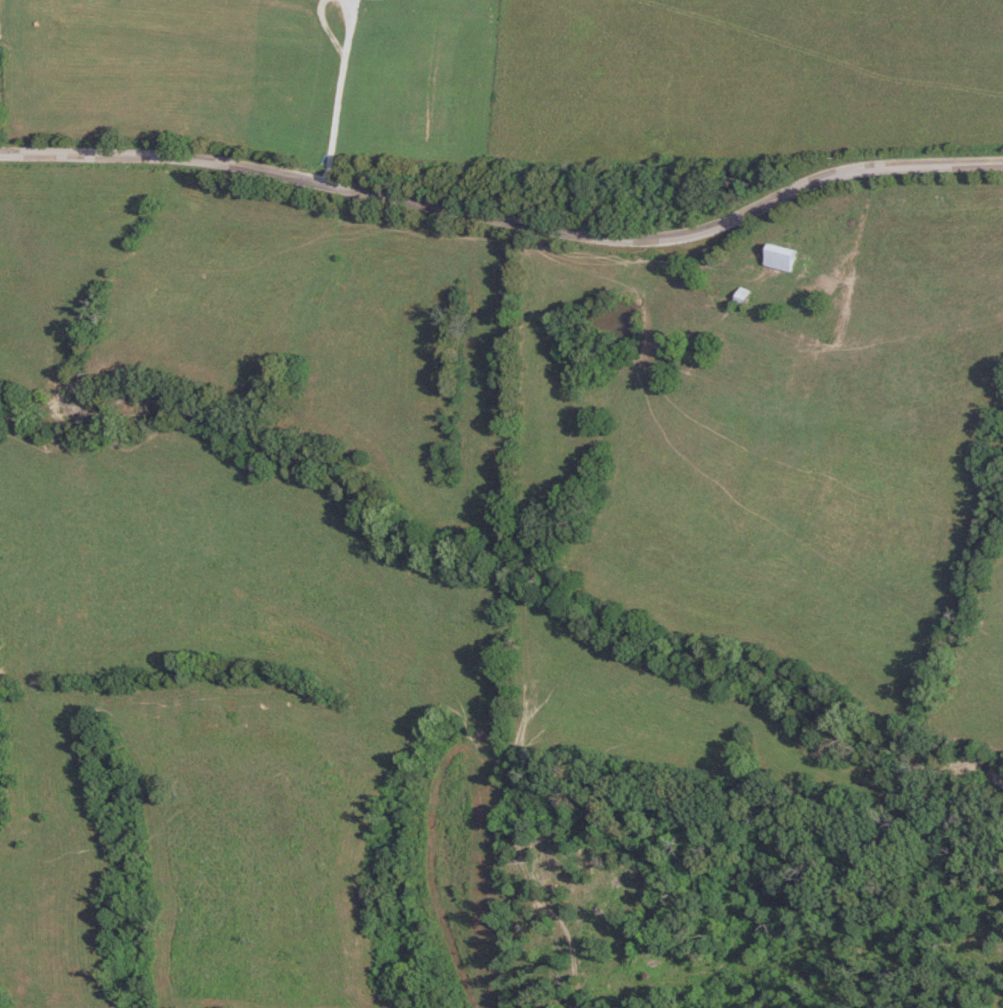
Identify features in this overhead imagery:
road: (355, 26)
road: (335, 27)
road: (341, 115)
road: (505, 222)
building: (781, 257)
building: (743, 296)

